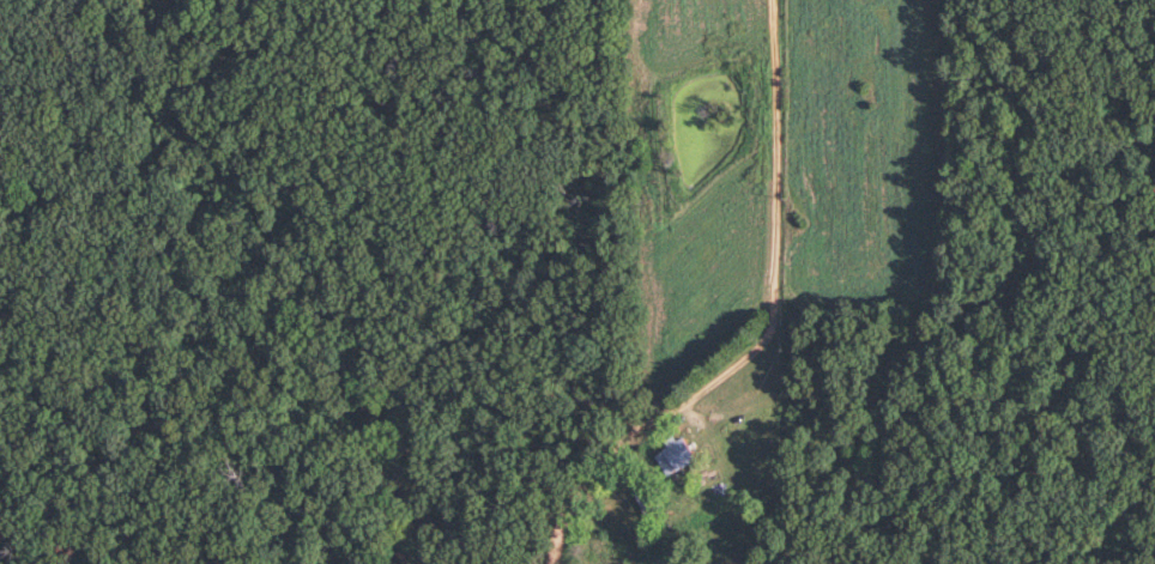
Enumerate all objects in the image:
road: (773, 243)
building: (671, 457)
road: (591, 467)

